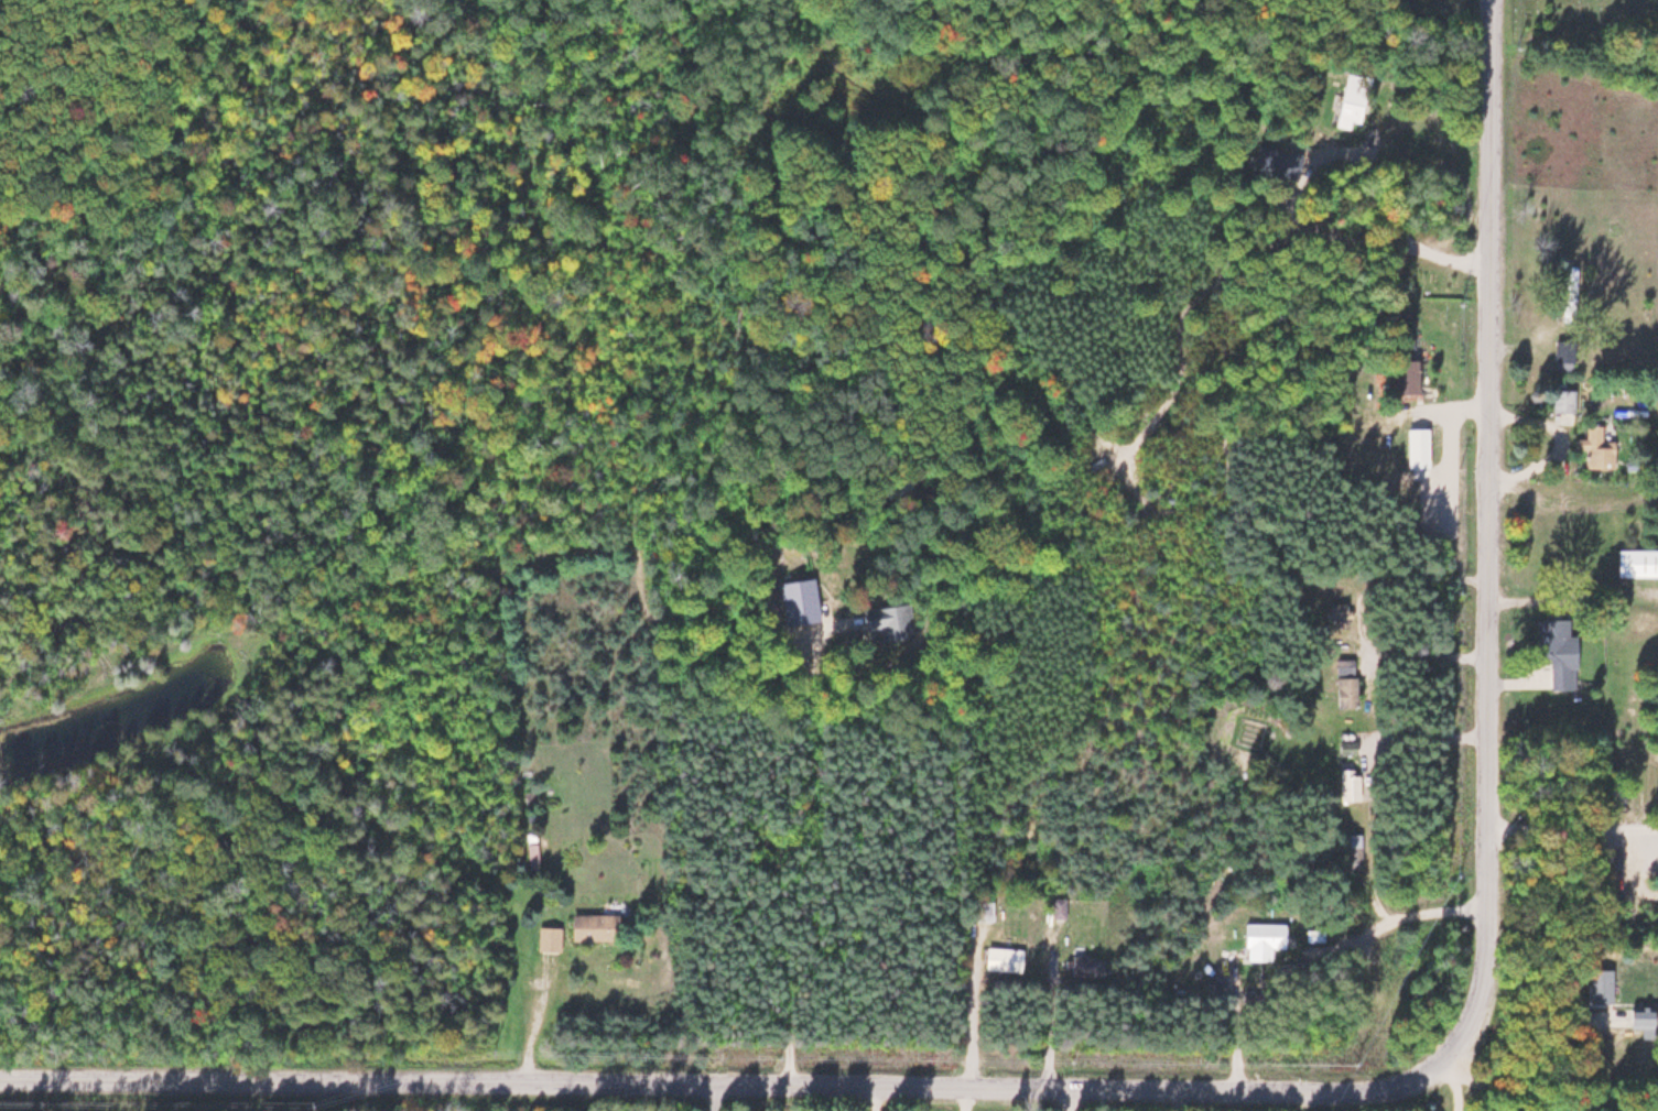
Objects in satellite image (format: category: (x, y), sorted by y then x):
park: (1585, 23)
building: (1352, 102)
road: (1399, 228)
building: (1569, 286)
building: (1562, 352)
building: (1402, 377)
building: (1562, 401)
building: (1595, 442)
building: (1416, 448)
building: (1636, 563)
building: (795, 601)
building: (1336, 611)
building: (887, 621)
building: (1557, 650)
building: (1344, 665)
building: (1345, 690)
road: (1426, 733)
building: (1347, 747)
building: (1347, 784)
building: (1351, 852)
building: (531, 857)
road: (778, 857)
building: (1058, 906)
building: (982, 911)
road: (1422, 912)
building: (592, 927)
building: (548, 938)
building: (1264, 939)
building: (1004, 959)
building: (1087, 966)
building: (1599, 985)
building: (1639, 1015)
road: (1264, 1091)

